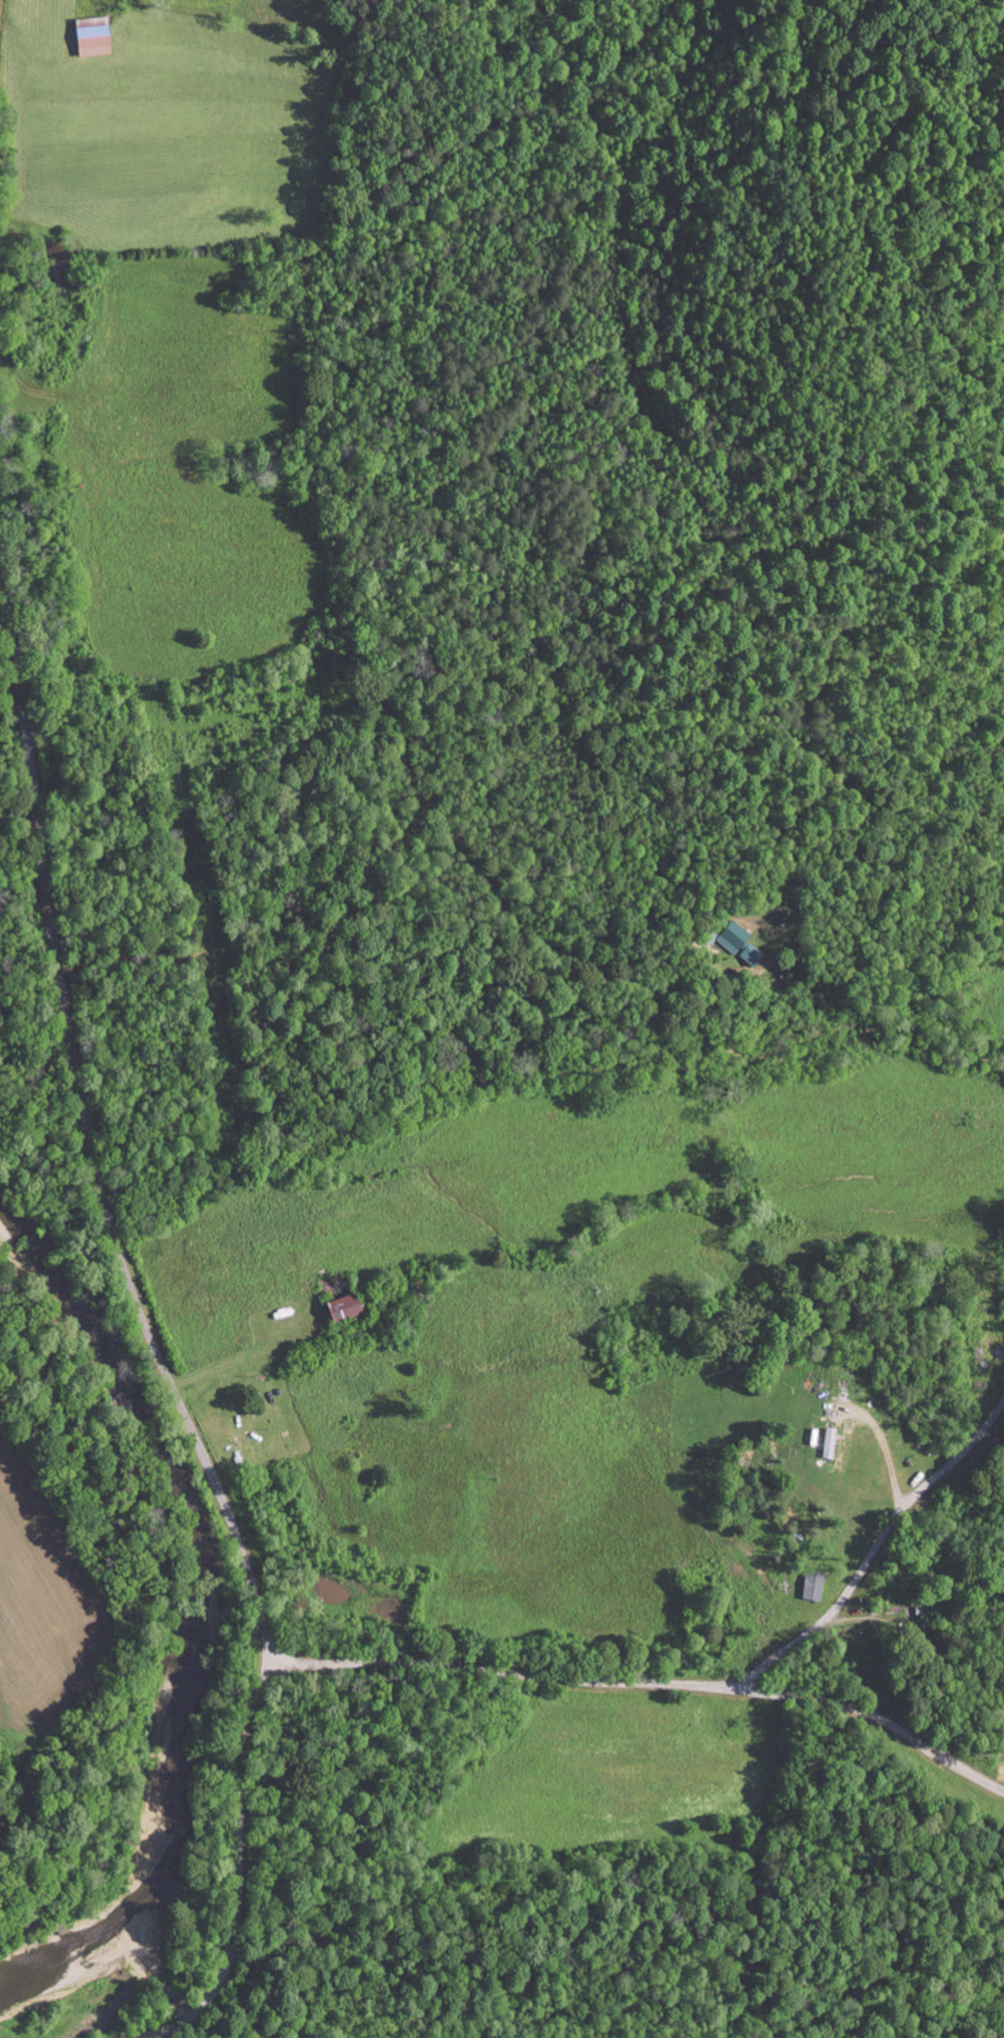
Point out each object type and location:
building: (96, 38)
building: (736, 939)
building: (754, 956)
road: (88, 1139)
building: (349, 1308)
building: (832, 1444)
building: (847, 1446)
road: (874, 1551)
building: (815, 1587)
road: (807, 1591)
road: (645, 1684)
road: (235, 1869)

